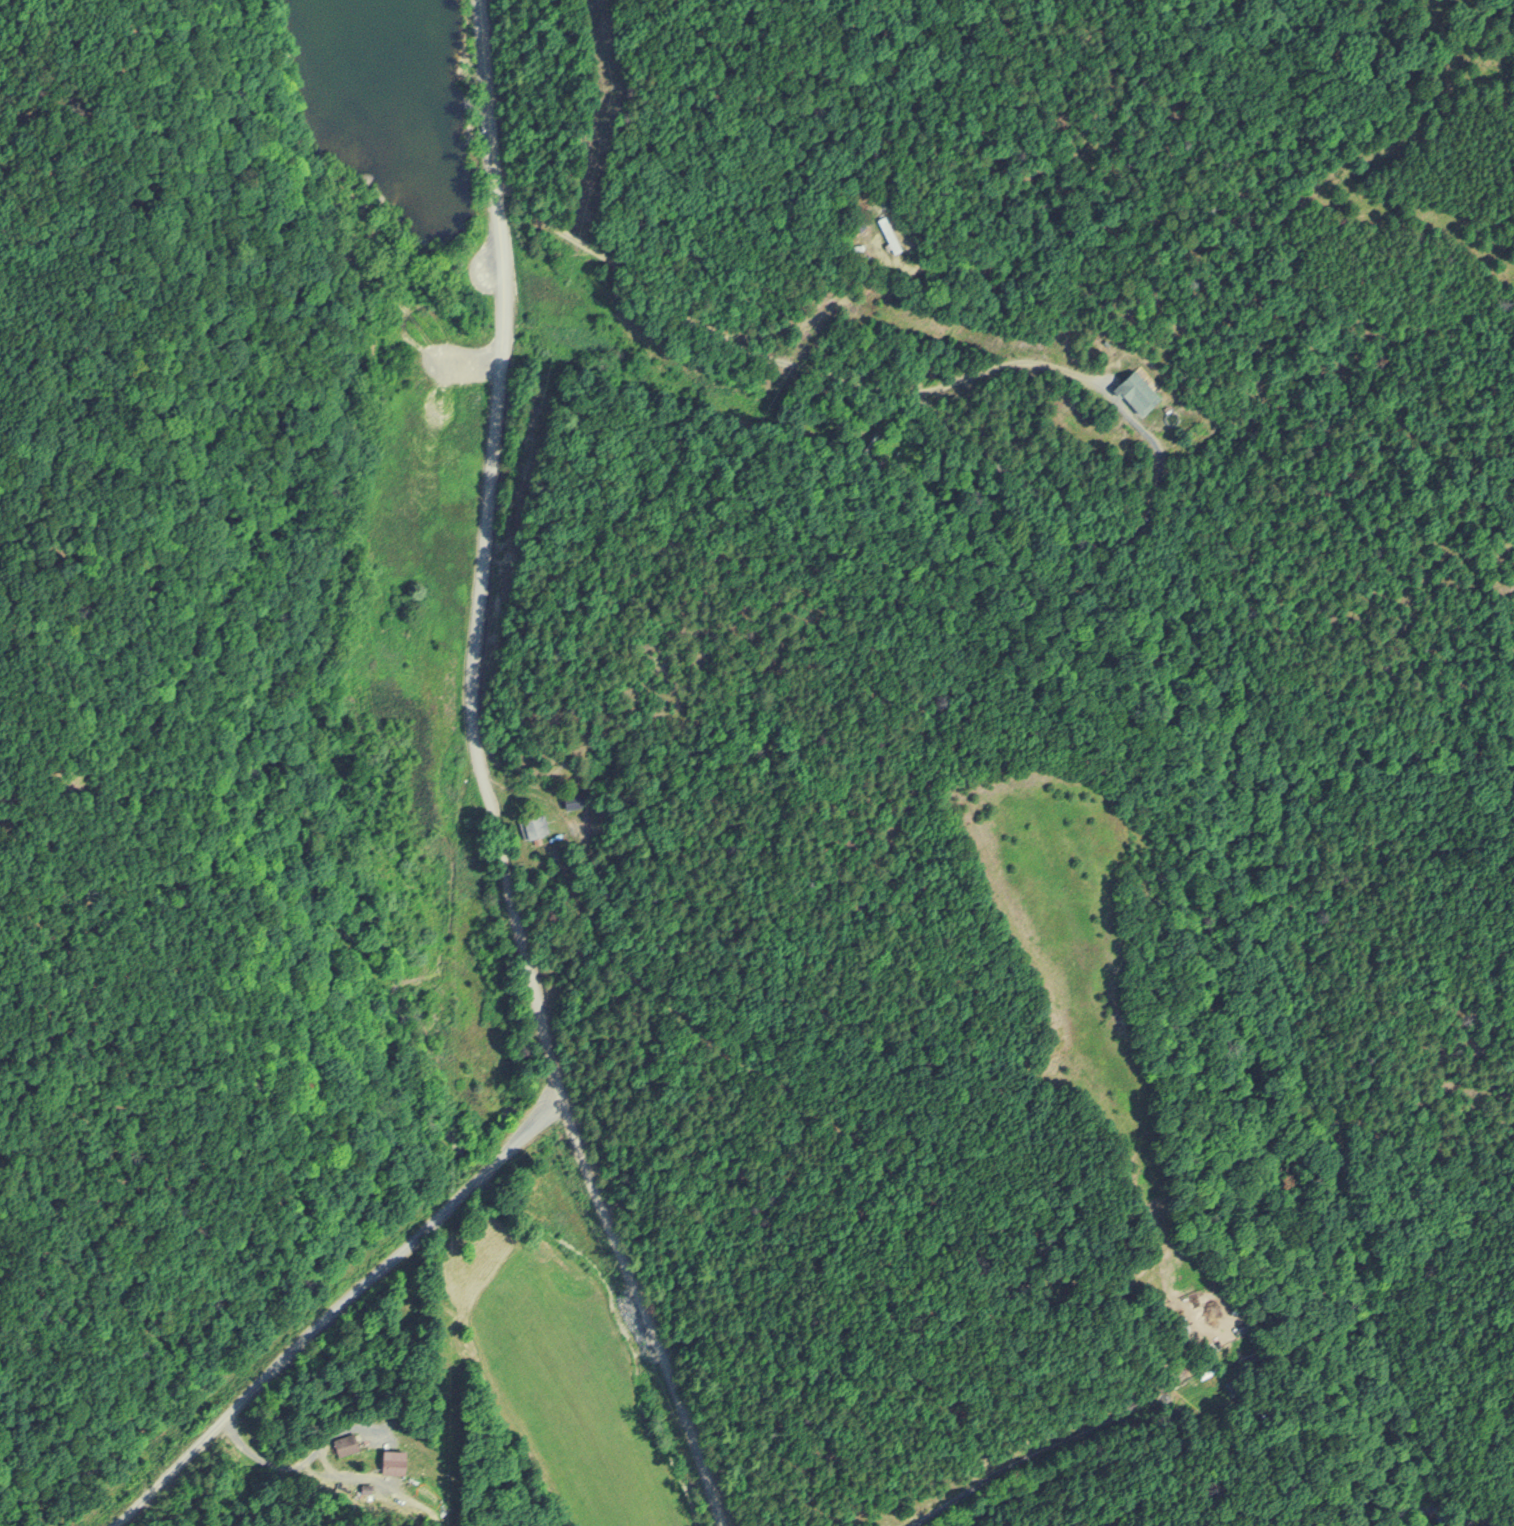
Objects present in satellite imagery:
building: (890, 233)
park: (664, 251)
road: (680, 295)
road: (926, 390)
building: (1142, 390)
park: (233, 701)
road: (483, 779)
building: (535, 825)
road: (331, 1309)
building: (347, 1443)
road: (1039, 1445)
building: (398, 1461)

